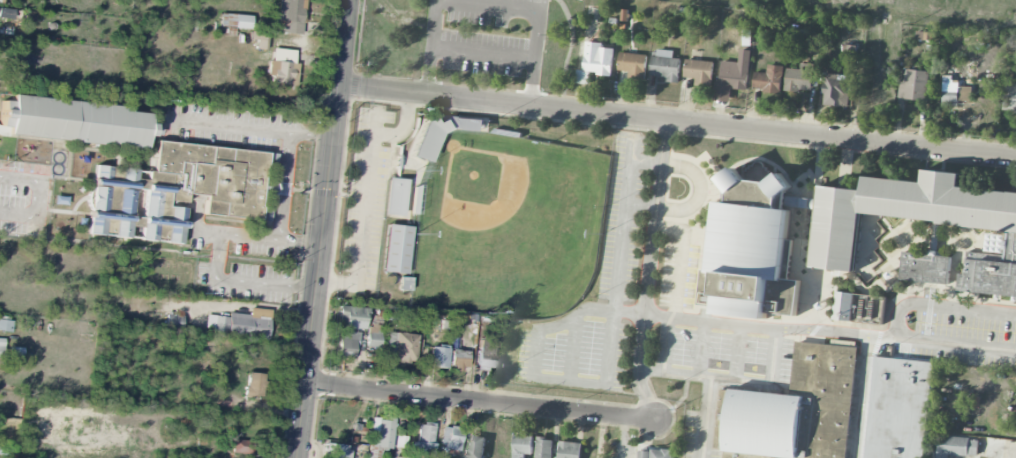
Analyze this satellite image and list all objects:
road: (501, 4)
park: (909, 10)
building: (6, 14)
building: (290, 15)
building: (235, 21)
parking lot: (486, 35)
park: (476, 40)
building: (259, 41)
road: (569, 45)
building: (814, 45)
road: (433, 46)
road: (483, 51)
road: (531, 56)
building: (597, 58)
building: (633, 64)
building: (666, 65)
building: (282, 66)
building: (699, 71)
building: (733, 76)
building: (582, 77)
building: (799, 78)
building: (768, 79)
building: (914, 84)
building: (837, 91)
building: (954, 92)
building: (1008, 97)
road: (678, 120)
building: (73, 122)
road: (232, 126)
road: (312, 134)
building: (426, 140)
building: (733, 179)
building: (780, 185)
building: (182, 191)
road: (367, 193)
building: (394, 197)
road: (35, 198)
building: (804, 202)
road: (639, 206)
road: (280, 208)
building: (906, 212)
road: (324, 229)
building: (396, 249)
road: (680, 258)
building: (753, 261)
building: (925, 268)
road: (647, 272)
road: (219, 277)
building: (988, 278)
building: (404, 284)
building: (843, 306)
road: (946, 307)
building: (351, 317)
building: (173, 321)
road: (559, 321)
building: (241, 324)
building: (5, 326)
road: (799, 327)
building: (373, 337)
road: (953, 343)
building: (346, 345)
building: (402, 346)
building: (1, 348)
building: (15, 353)
building: (487, 353)
building: (438, 357)
building: (459, 360)
road: (701, 361)
road: (669, 372)
building: (254, 385)
road: (860, 395)
road: (483, 402)
building: (896, 408)
building: (796, 409)
building: (380, 437)
building: (425, 439)
building: (451, 439)
building: (399, 442)
building: (521, 445)
building: (243, 446)
building: (953, 446)
building: (475, 447)
road: (1007, 447)
building: (543, 448)
building: (569, 450)
building: (336, 451)
building: (655, 453)
building: (396, 457)

